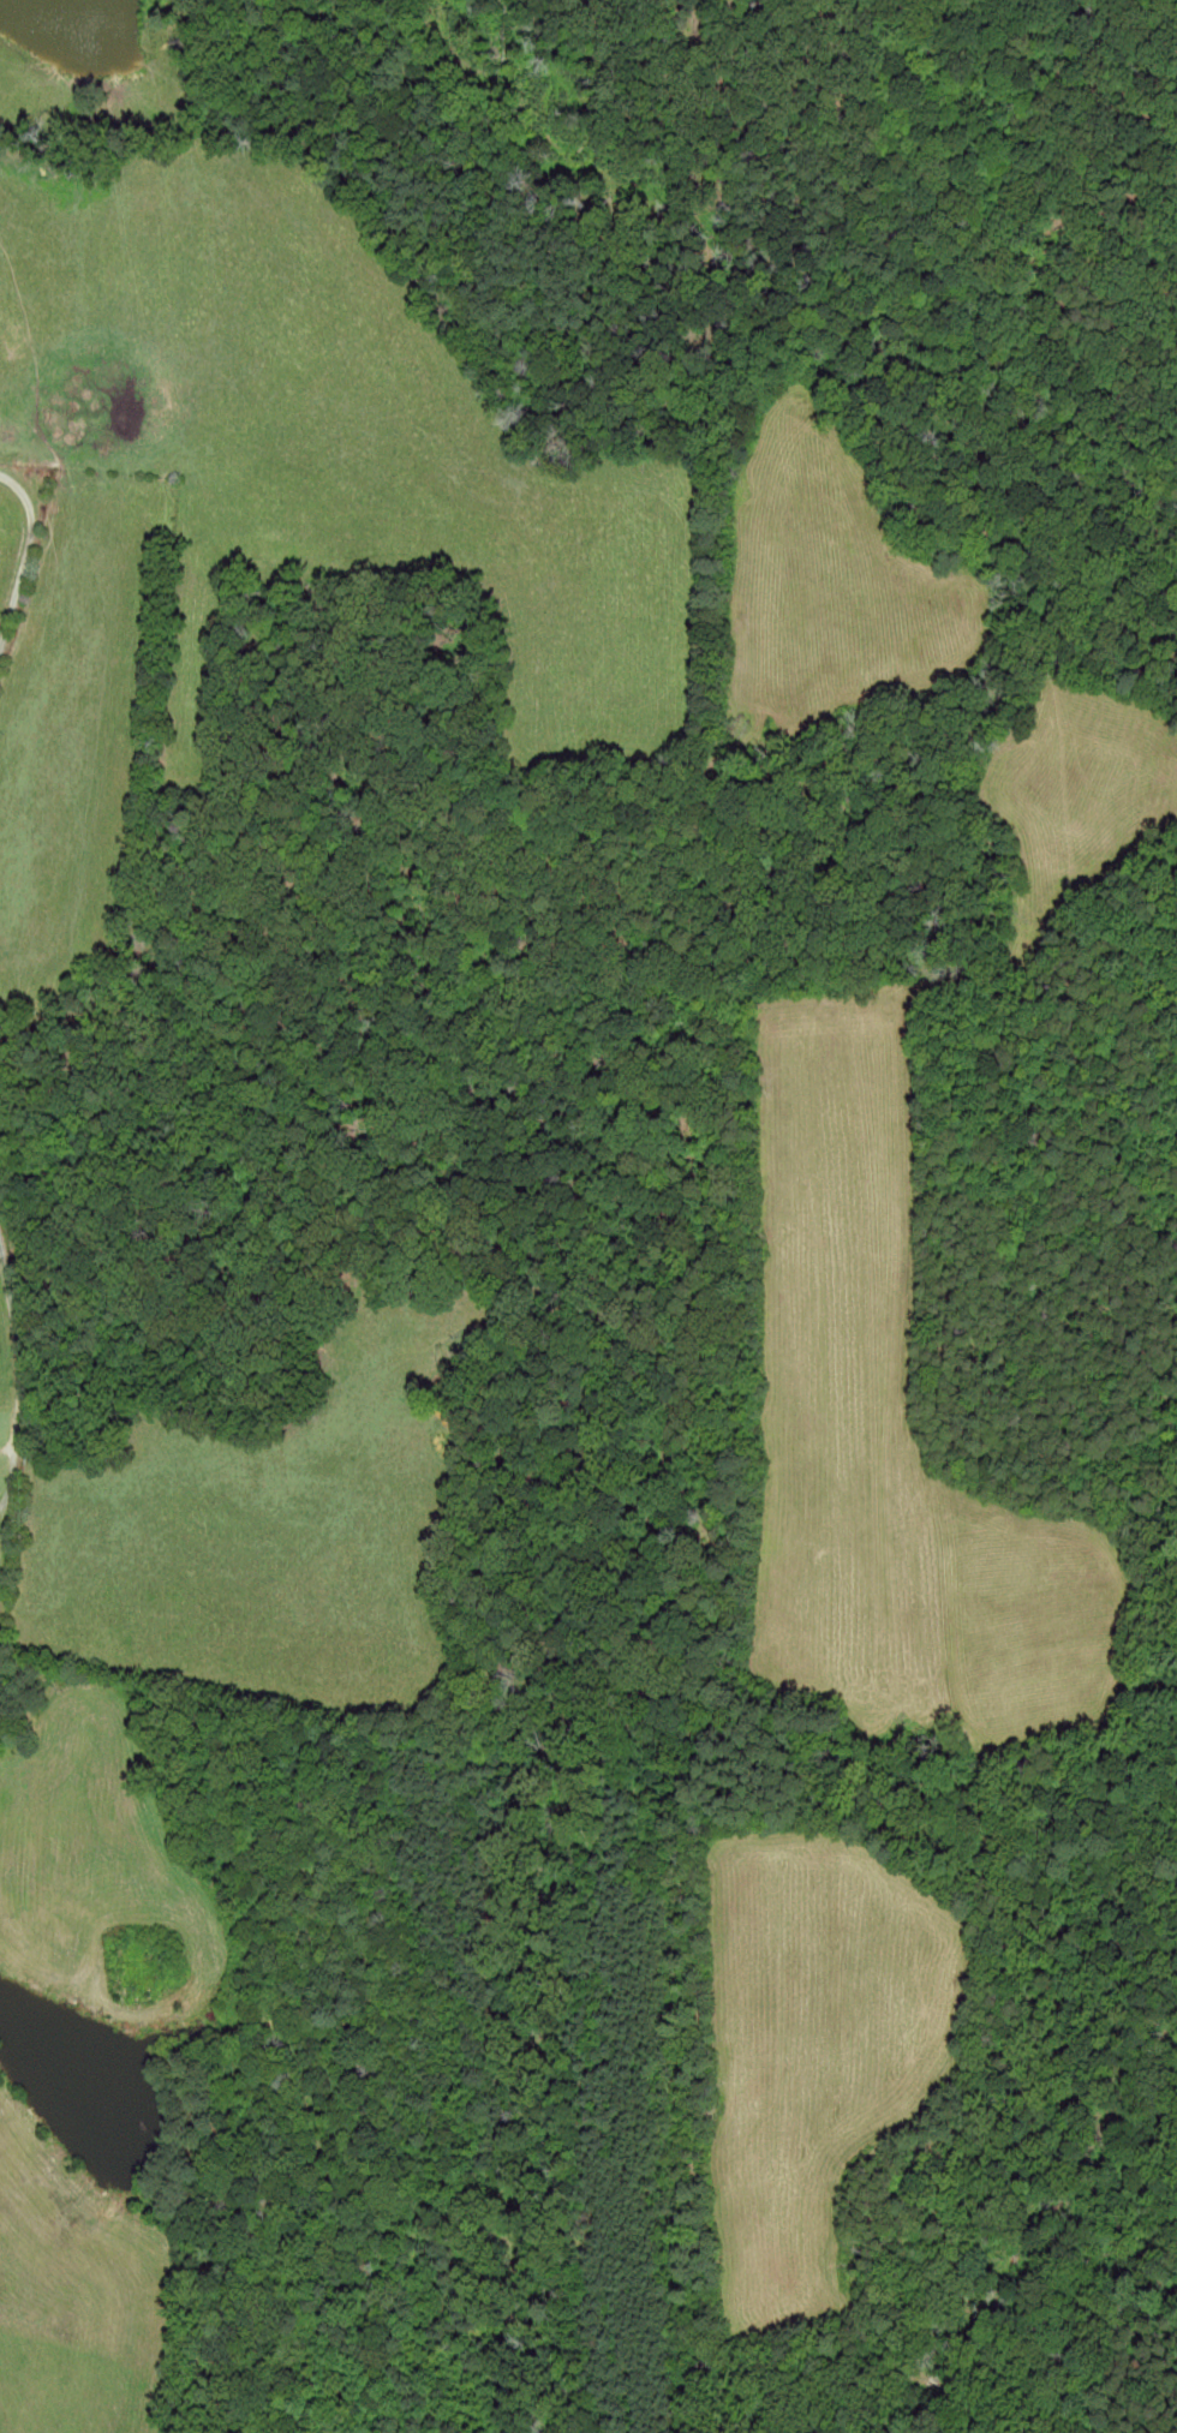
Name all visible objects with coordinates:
road: (22, 555)
road: (17, 1369)

